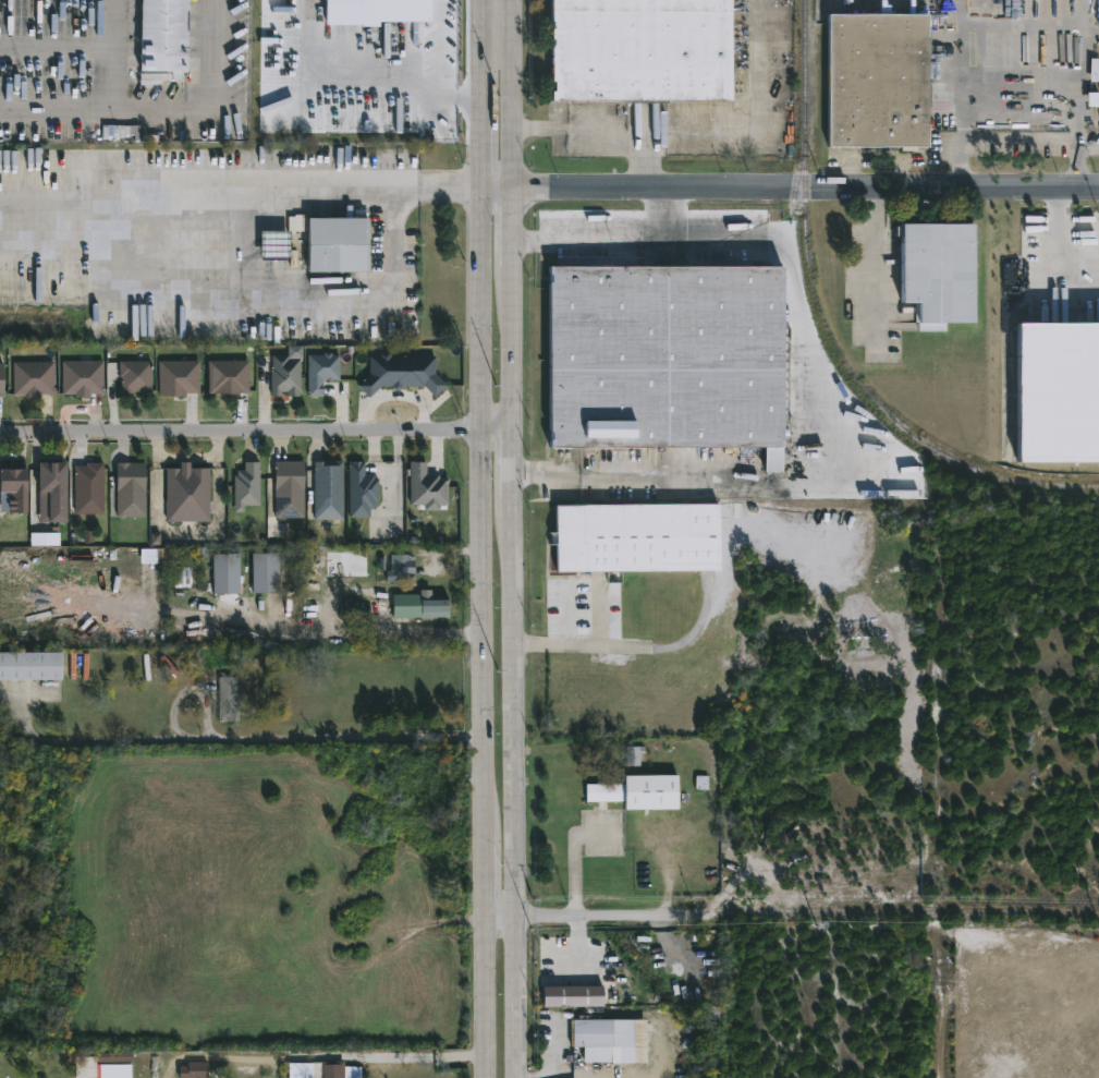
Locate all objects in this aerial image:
railway: (820, 7)
building: (377, 11)
building: (163, 36)
road: (60, 48)
building: (644, 49)
road: (120, 53)
road: (212, 53)
road: (379, 73)
building: (880, 80)
road: (1022, 85)
road: (481, 93)
road: (511, 93)
road: (106, 108)
road: (704, 136)
road: (646, 163)
railway: (796, 170)
road: (804, 185)
road: (496, 186)
road: (241, 187)
building: (297, 225)
road: (510, 225)
road: (612, 231)
building: (339, 244)
building: (276, 245)
road: (875, 261)
railway: (809, 265)
building: (942, 271)
road: (268, 300)
road: (512, 347)
building: (664, 356)
building: (321, 372)
building: (286, 374)
building: (401, 374)
building: (80, 377)
building: (136, 377)
building: (229, 377)
building: (33, 378)
building: (180, 378)
building: (1, 380)
building: (1058, 392)
road: (256, 424)
road: (513, 465)
road: (639, 475)
building: (246, 487)
building: (427, 488)
building: (13, 489)
building: (89, 489)
building: (131, 489)
building: (289, 489)
building: (328, 490)
building: (362, 492)
building: (52, 494)
building: (187, 495)
building: (638, 537)
building: (44, 540)
building: (400, 567)
building: (265, 573)
building: (225, 574)
building: (614, 578)
building: (435, 609)
road: (481, 632)
road: (363, 637)
road: (589, 641)
road: (648, 646)
building: (30, 664)
building: (225, 700)
road: (257, 739)
building: (638, 756)
road: (515, 790)
building: (639, 794)
road: (697, 919)
road: (925, 919)
road: (1018, 919)
road: (582, 948)
building: (572, 996)
building: (598, 1015)
building: (588, 1033)
road: (557, 1054)
road: (418, 1056)
building: (115, 1065)
building: (193, 1069)
building: (328, 1069)

